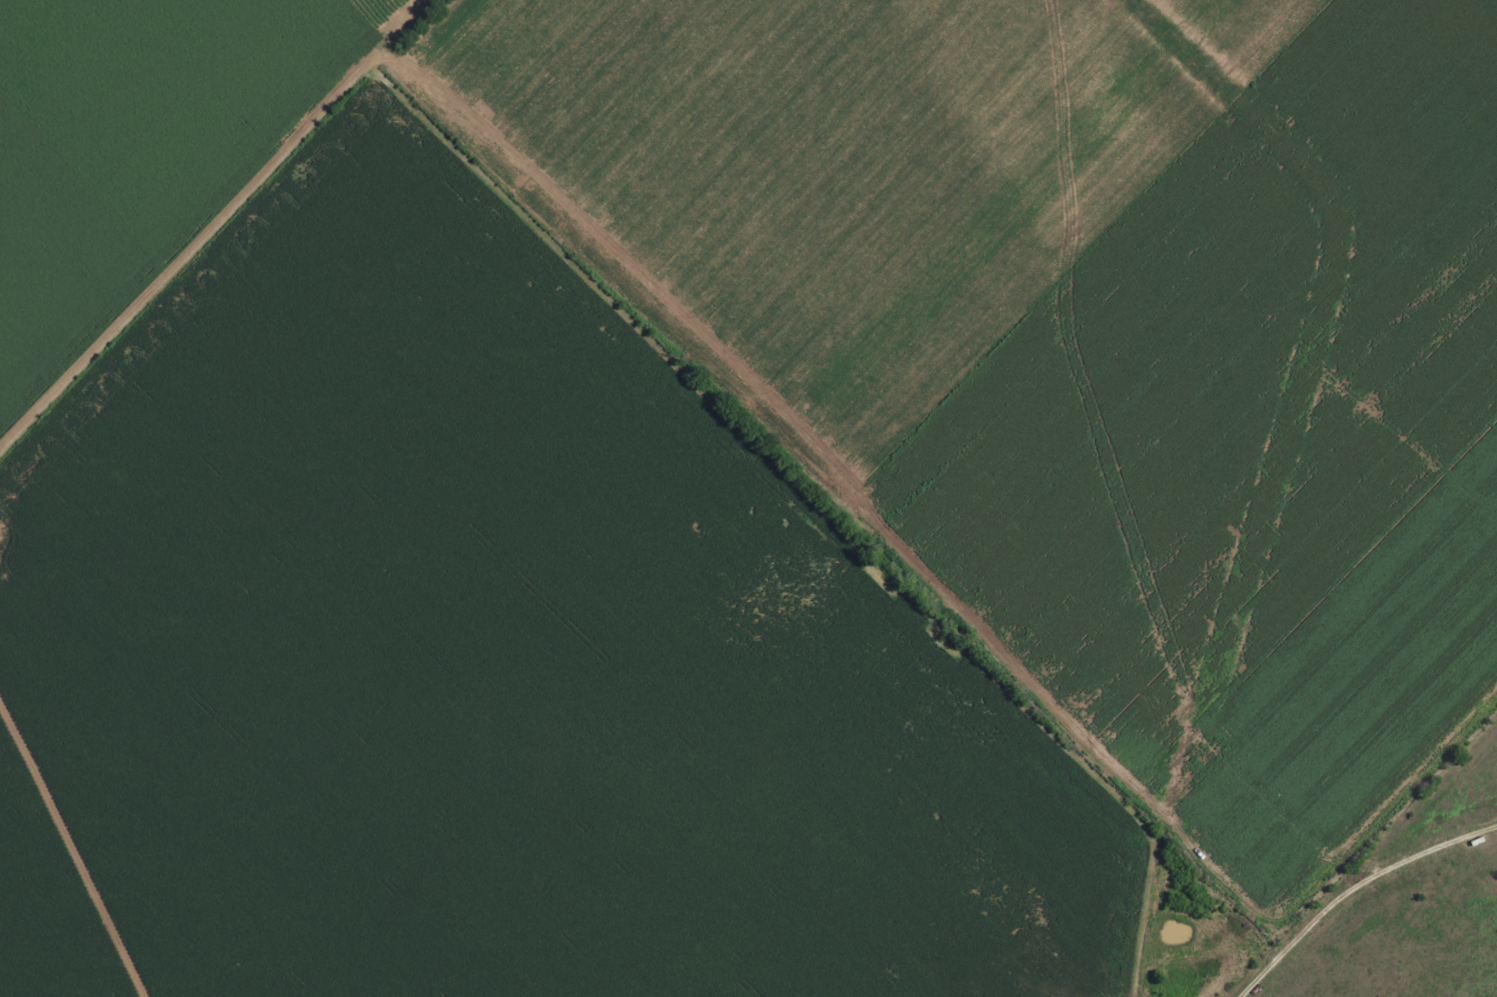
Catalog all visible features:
road: (1351, 885)

